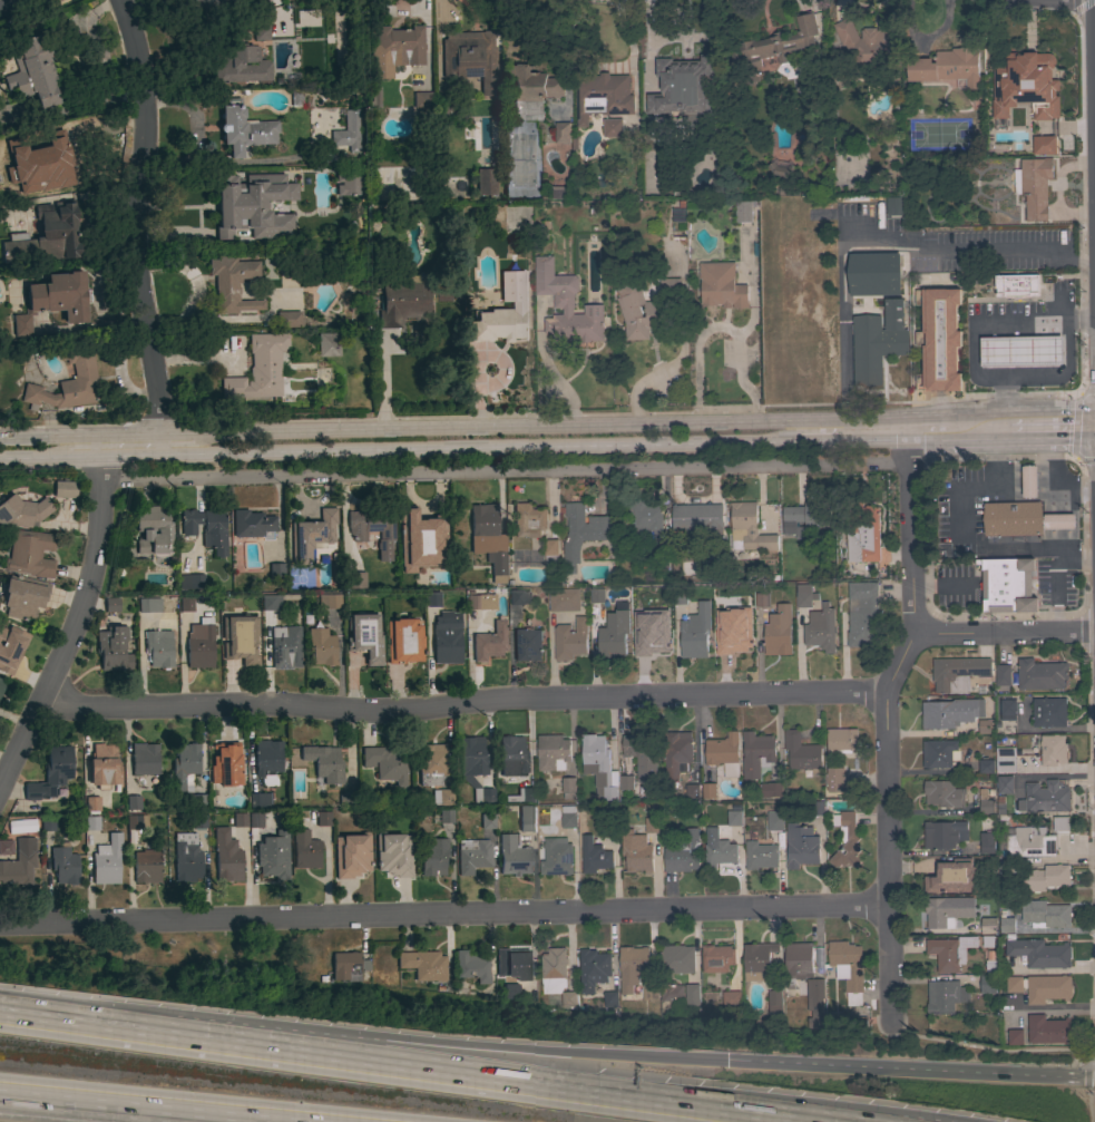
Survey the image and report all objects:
building: (3, 3)
road: (1082, 6)
building: (334, 32)
building: (870, 43)
building: (772, 47)
building: (394, 50)
building: (470, 59)
building: (242, 64)
building: (947, 67)
building: (36, 74)
building: (1034, 87)
building: (685, 89)
building: (531, 90)
building: (603, 96)
building: (373, 97)
building: (422, 99)
building: (444, 109)
building: (997, 111)
building: (613, 127)
building: (243, 129)
building: (346, 133)
building: (563, 133)
road: (1091, 136)
building: (997, 142)
building: (1046, 146)
building: (522, 150)
building: (48, 159)
building: (780, 170)
building: (292, 175)
building: (485, 182)
building: (348, 184)
building: (715, 185)
building: (1034, 186)
building: (559, 191)
building: (788, 191)
building: (820, 205)
building: (893, 205)
building: (743, 211)
building: (232, 214)
building: (0, 215)
road: (141, 225)
building: (45, 237)
road: (876, 237)
building: (877, 274)
building: (287, 281)
building: (232, 284)
building: (1016, 284)
building: (721, 285)
building: (53, 300)
building: (408, 301)
building: (566, 305)
building: (636, 310)
road: (1081, 319)
building: (289, 320)
road: (1057, 320)
building: (497, 324)
gas station: (1018, 329)
road: (743, 330)
building: (939, 338)
building: (878, 341)
building: (327, 344)
building: (1021, 350)
gas station: (1021, 350)
road: (697, 355)
building: (258, 369)
building: (68, 382)
road: (1023, 416)
road: (928, 418)
road: (452, 426)
road: (1077, 426)
road: (1052, 439)
road: (976, 440)
road: (925, 441)
road: (850, 442)
road: (397, 449)
road: (503, 470)
building: (1029, 480)
building: (65, 489)
building: (22, 511)
building: (805, 517)
building: (645, 518)
building: (696, 518)
building: (1013, 518)
building: (528, 520)
building: (1059, 520)
building: (252, 524)
road: (908, 525)
building: (206, 528)
building: (373, 528)
building: (749, 529)
building: (863, 529)
building: (153, 531)
building: (583, 531)
building: (419, 533)
road: (1082, 534)
building: (312, 536)
building: (489, 540)
building: (520, 544)
building: (550, 550)
building: (29, 554)
building: (661, 558)
building: (276, 570)
building: (190, 582)
building: (355, 582)
building: (1007, 585)
building: (597, 595)
building: (804, 595)
building: (23, 597)
building: (518, 597)
building: (680, 597)
building: (329, 599)
building: (564, 599)
building: (762, 599)
building: (432, 601)
building: (721, 601)
building: (271, 602)
building: (481, 602)
building: (638, 602)
building: (186, 604)
building: (111, 605)
building: (148, 605)
building: (863, 614)
road: (75, 615)
building: (821, 628)
road: (1082, 630)
building: (778, 631)
building: (695, 632)
building: (613, 634)
building: (737, 635)
building: (364, 637)
building: (238, 640)
building: (570, 640)
building: (654, 640)
building: (403, 641)
building: (446, 641)
building: (489, 642)
building: (527, 644)
building: (199, 646)
building: (10, 647)
building: (285, 647)
building: (321, 647)
building: (113, 648)
building: (158, 648)
building: (960, 672)
building: (1003, 674)
building: (1040, 674)
building: (1, 684)
road: (585, 696)
building: (1007, 710)
building: (949, 712)
building: (1049, 712)
building: (985, 725)
building: (841, 740)
building: (1053, 750)
building: (553, 752)
building: (802, 752)
building: (724, 753)
building: (756, 753)
building: (939, 753)
building: (642, 754)
building: (676, 755)
building: (511, 757)
building: (144, 759)
building: (267, 760)
building: (1006, 760)
building: (324, 763)
building: (385, 763)
building: (431, 764)
building: (104, 765)
building: (225, 765)
building: (599, 765)
building: (986, 765)
building: (184, 767)
building: (473, 768)
building: (51, 773)
building: (834, 779)
building: (626, 782)
building: (1005, 784)
building: (568, 787)
building: (771, 789)
building: (708, 790)
building: (692, 791)
building: (942, 793)
building: (521, 796)
building: (441, 797)
building: (1046, 797)
building: (260, 800)
building: (133, 801)
building: (198, 801)
building: (985, 802)
building: (91, 804)
building: (815, 808)
building: (446, 816)
building: (568, 817)
building: (734, 818)
building: (322, 819)
building: (526, 819)
building: (238, 820)
building: (255, 820)
building: (198, 821)
building: (487, 821)
building: (774, 821)
building: (136, 822)
building: (91, 823)
building: (1060, 823)
building: (46, 825)
building: (652, 825)
building: (610, 829)
building: (944, 835)
building: (845, 839)
building: (1027, 842)
building: (801, 846)
building: (986, 846)
building: (6, 847)
building: (636, 851)
building: (683, 852)
building: (720, 853)
building: (306, 855)
building: (393, 855)
building: (760, 855)
building: (273, 856)
building: (351, 856)
building: (432, 856)
building: (472, 856)
building: (512, 856)
building: (594, 856)
road: (884, 856)
building: (226, 857)
building: (556, 857)
building: (186, 858)
building: (107, 861)
building: (63, 865)
building: (19, 866)
building: (147, 866)
building: (951, 877)
building: (1045, 877)
building: (946, 910)
building: (1045, 914)
road: (442, 915)
building: (988, 925)
building: (1007, 925)
building: (949, 952)
building: (1038, 952)
park: (214, 956)
building: (676, 958)
building: (717, 958)
building: (757, 959)
building: (796, 964)
building: (423, 965)
building: (348, 966)
building: (632, 966)
road: (265, 967)
building: (471, 967)
building: (593, 968)
building: (848, 968)
building: (553, 970)
building: (511, 972)
building: (987, 984)
building: (1014, 984)
building: (461, 988)
building: (1047, 988)
building: (649, 992)
building: (671, 992)
building: (945, 996)
building: (568, 998)
building: (610, 998)
building: (692, 998)
building: (731, 998)
building: (774, 1002)
building: (815, 1002)
building: (854, 1008)
building: (1047, 1030)
building: (1015, 1036)
road: (363, 1041)
road: (986, 1048)
road: (388, 1069)
road: (911, 1071)
road: (1086, 1075)
road: (578, 1083)
road: (89, 1101)
road: (1087, 1106)
road: (215, 1115)
road: (236, 1115)

